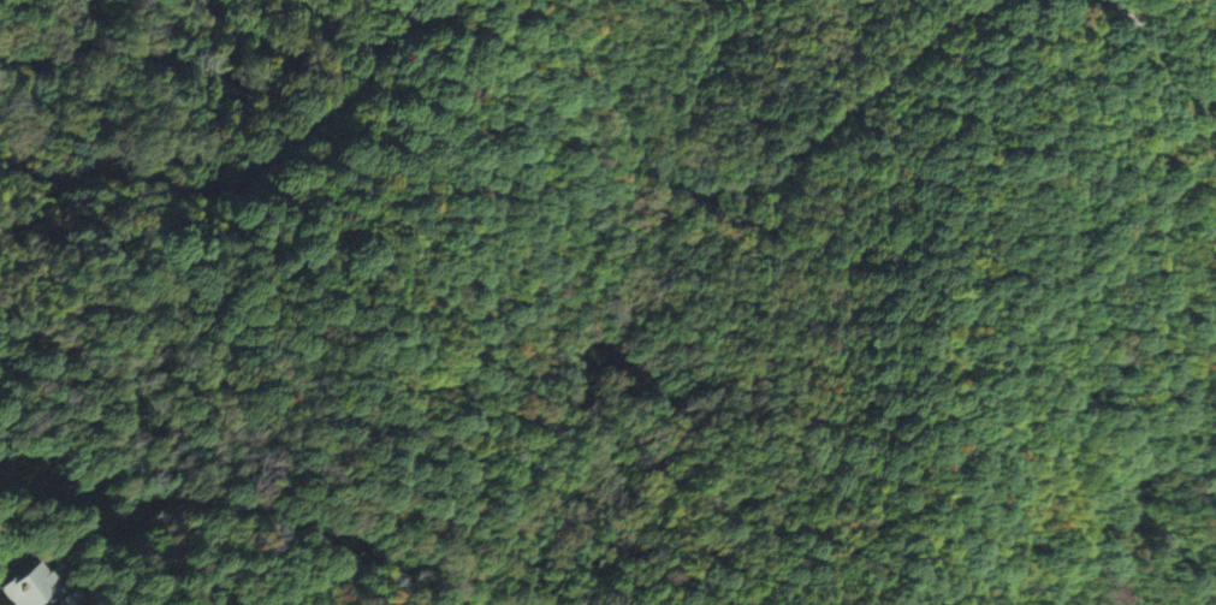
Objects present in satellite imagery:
road: (603, 152)
building: (24, 588)

